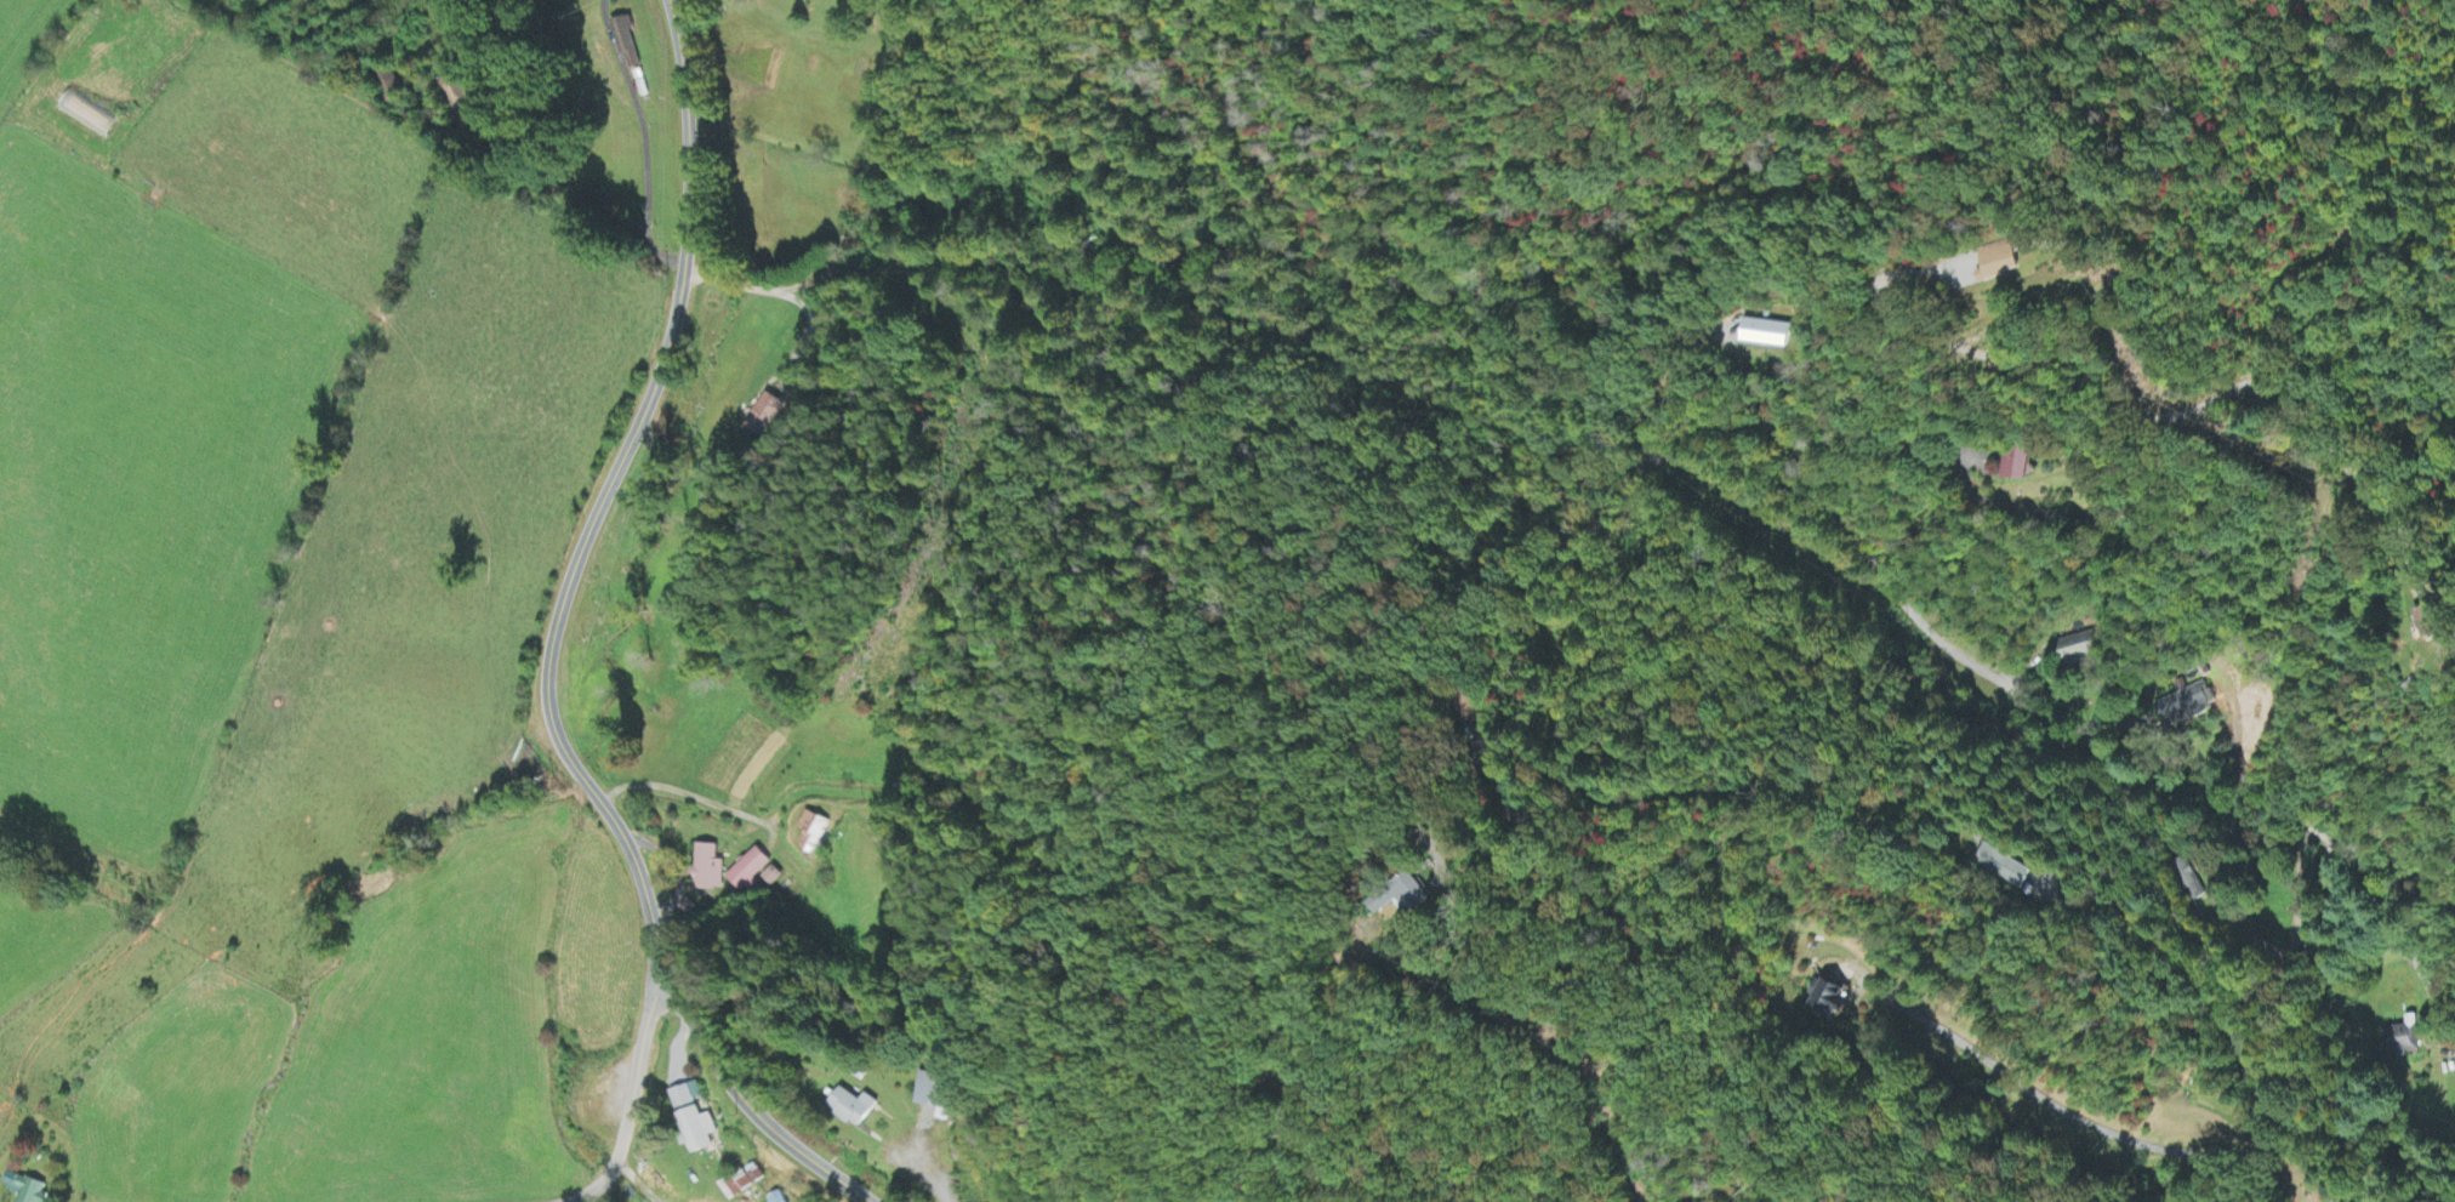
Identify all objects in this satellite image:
building: (626, 44)
building: (456, 96)
building: (86, 115)
road: (856, 212)
road: (1179, 258)
building: (2004, 262)
building: (1768, 335)
building: (763, 416)
building: (2016, 466)
building: (2432, 622)
road: (551, 643)
building: (2079, 650)
building: (2178, 706)
road: (2057, 729)
building: (811, 833)
building: (2001, 868)
building: (707, 870)
building: (747, 871)
building: (770, 877)
building: (2186, 879)
road: (2290, 958)
building: (1828, 999)
road: (2320, 1029)
road: (1470, 1032)
building: (2402, 1038)
building: (933, 1094)
building: (684, 1096)
road: (628, 1099)
building: (853, 1109)
building: (696, 1130)
road: (2144, 1144)
building: (740, 1184)
building: (24, 1189)
building: (775, 1198)

